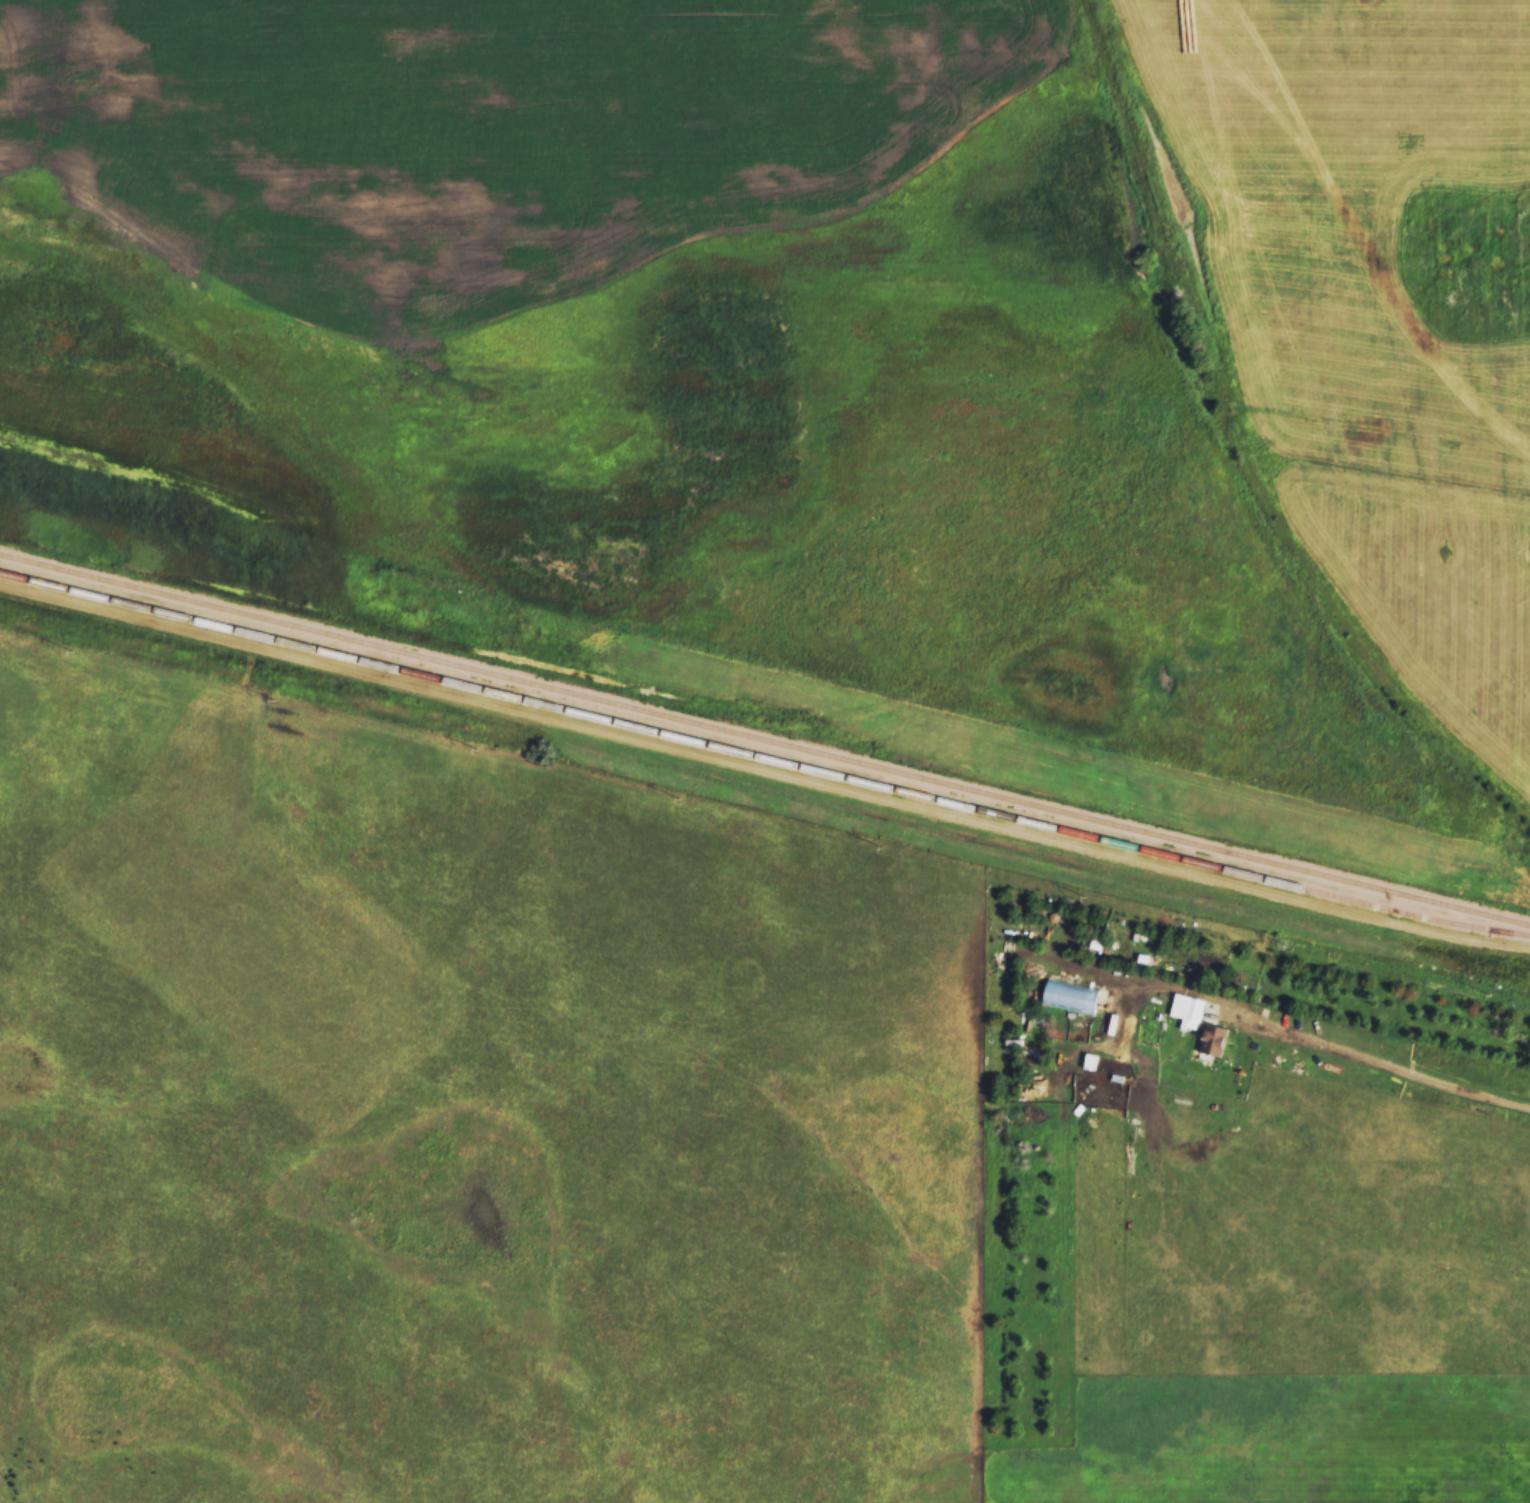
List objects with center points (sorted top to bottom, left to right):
railway: (765, 738)

